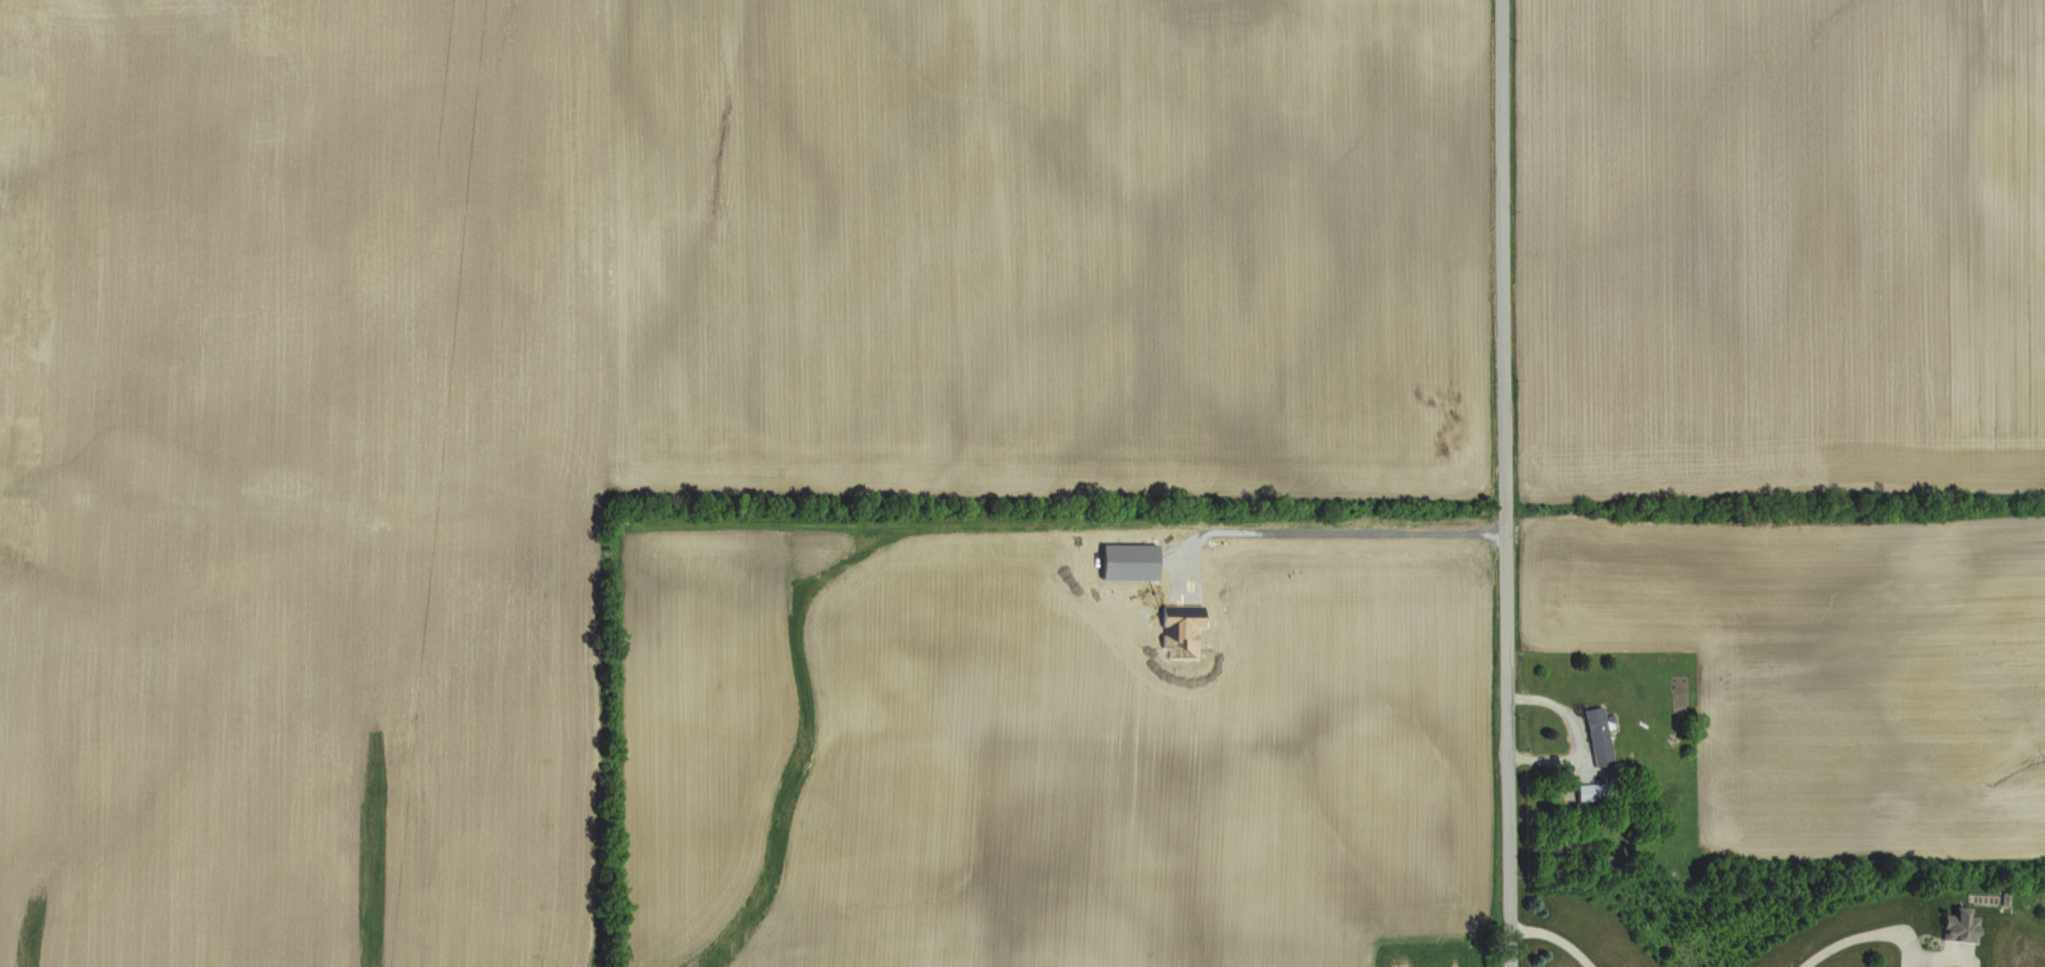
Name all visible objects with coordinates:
road: (1505, 483)
road: (1340, 529)
road: (1574, 736)
building: (1603, 737)
building: (1598, 792)
building: (1963, 928)
road: (1556, 933)
road: (1845, 938)

